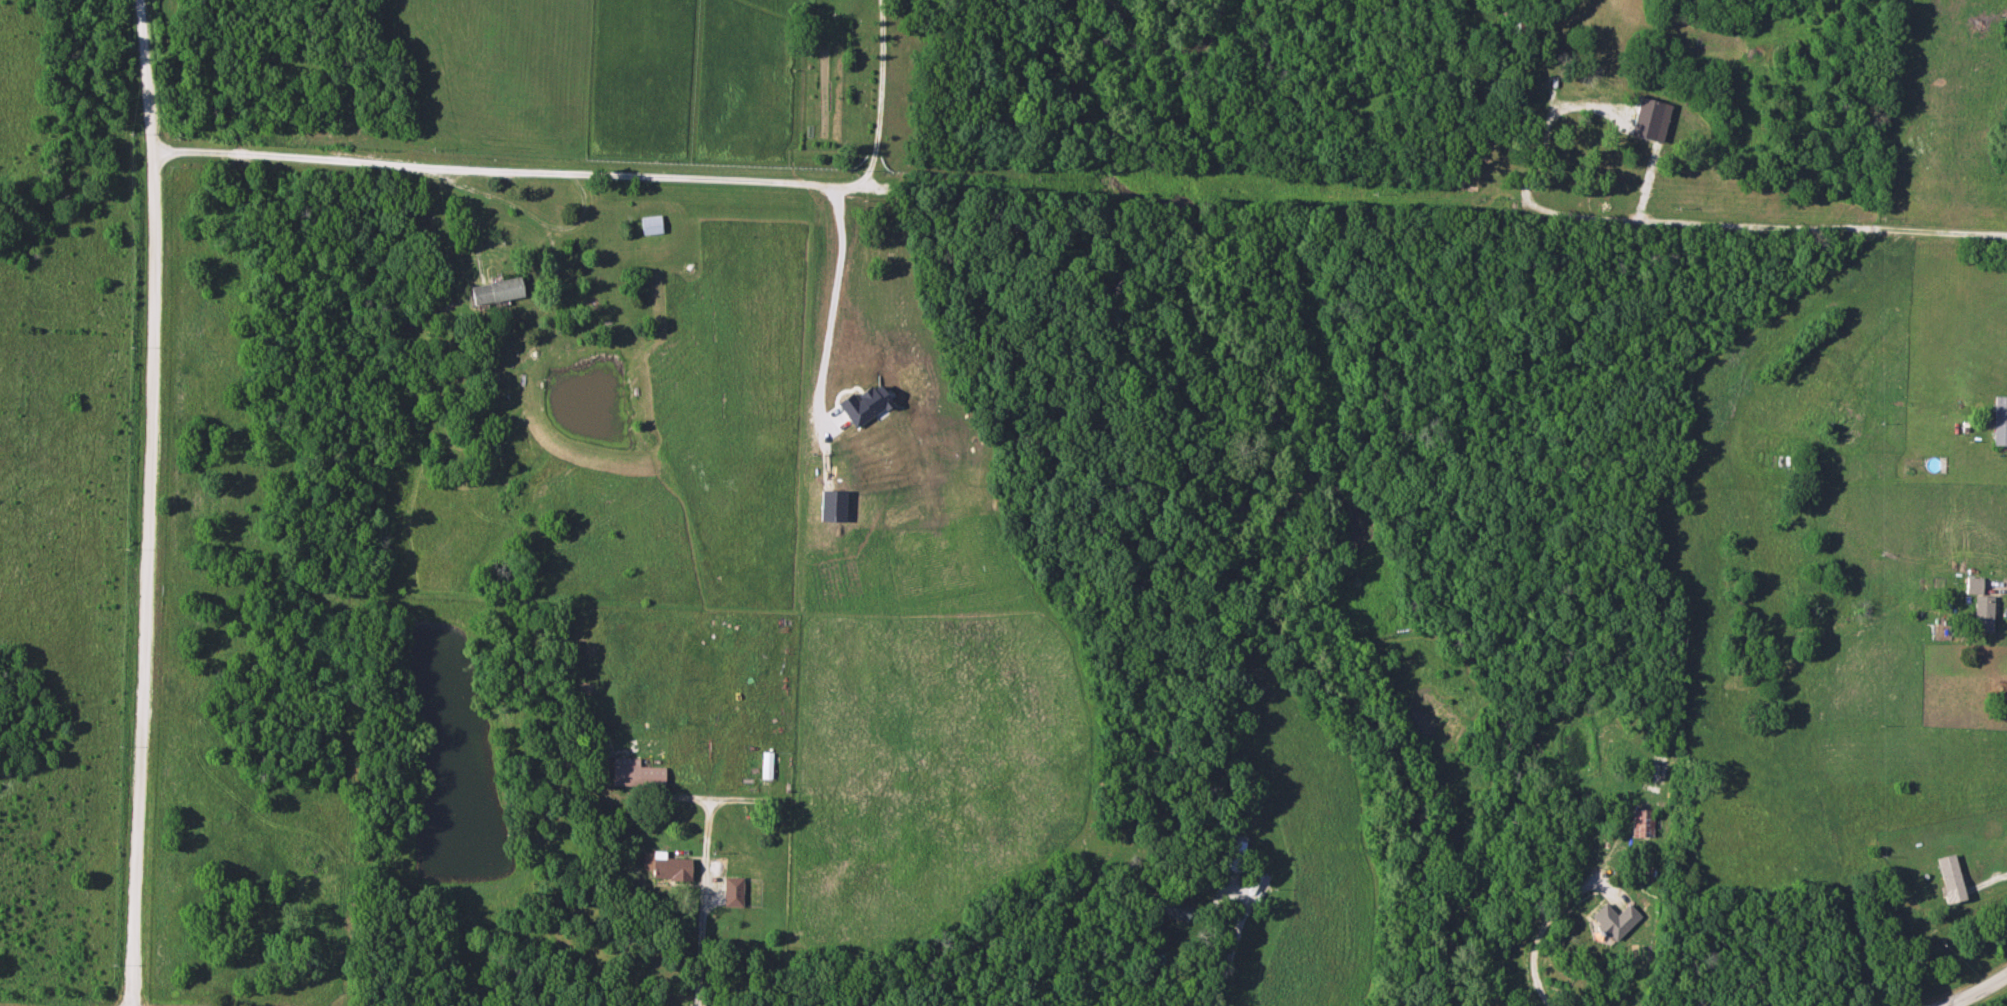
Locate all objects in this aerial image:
building: (1516, 25)
road: (880, 100)
building: (1556, 165)
road: (500, 172)
road: (470, 209)
road: (1426, 217)
building: (649, 224)
building: (493, 291)
road: (832, 296)
building: (1999, 420)
road: (147, 502)
road: (1999, 591)
building: (1979, 606)
building: (765, 765)
building: (634, 773)
road: (707, 798)
building: (1641, 823)
building: (1865, 844)
building: (1231, 855)
building: (668, 868)
road: (1995, 877)
building: (1947, 880)
road: (1224, 888)
building: (731, 892)
road: (702, 902)
building: (1169, 909)
road: (1537, 934)
road: (1212, 989)
road: (1972, 991)

